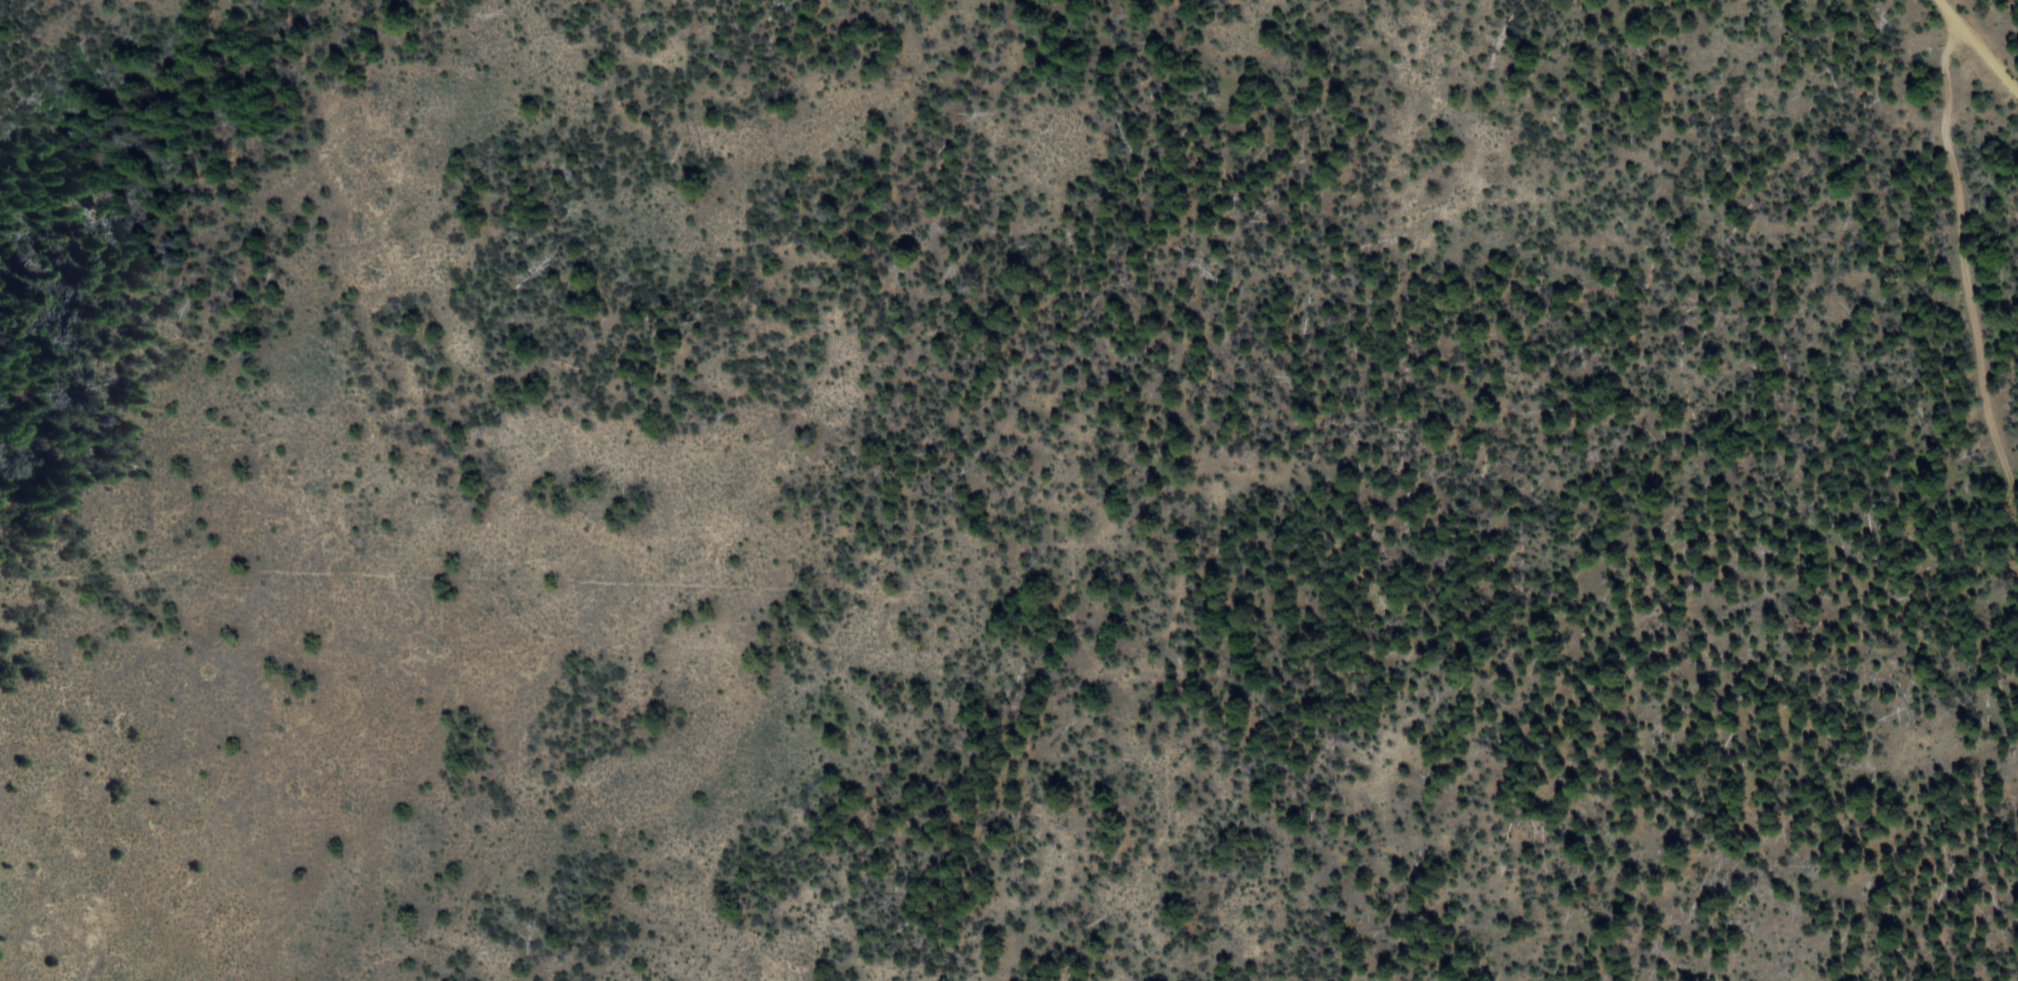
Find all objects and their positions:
road: (1976, 49)
road: (1964, 271)

